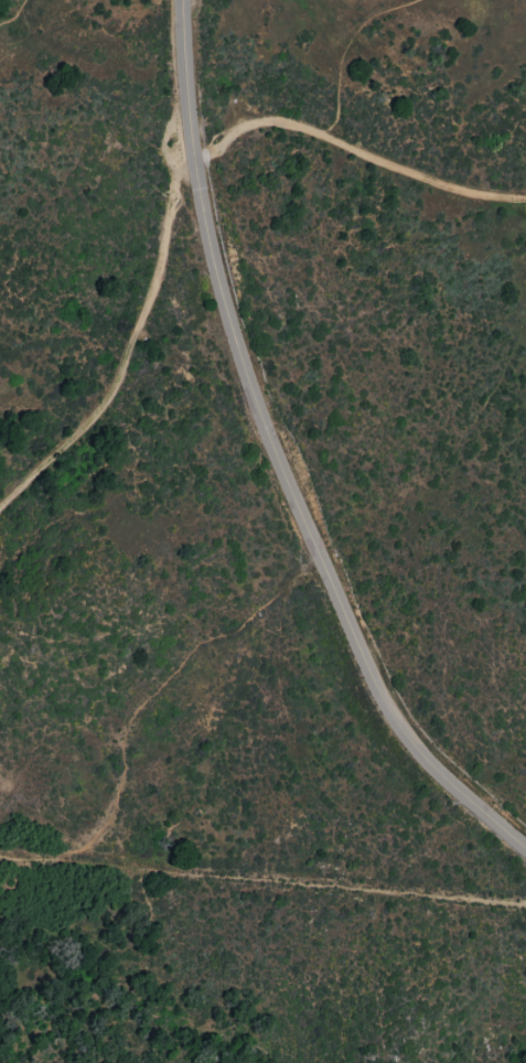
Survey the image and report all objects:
road: (14, 14)
road: (342, 56)
road: (355, 162)
road: (159, 277)
road: (311, 531)
road: (155, 689)
road: (262, 874)

